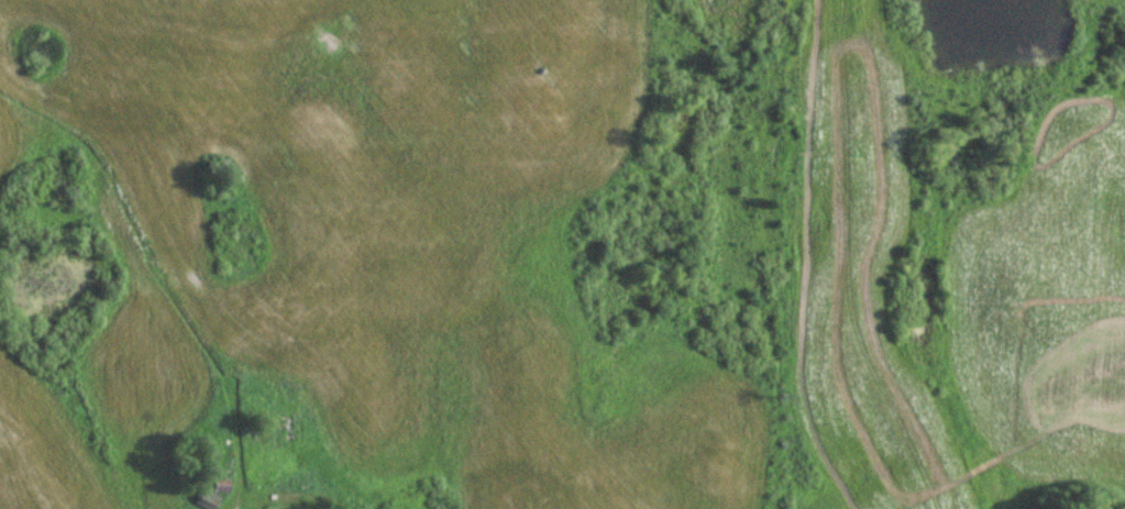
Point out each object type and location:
building: (207, 500)

